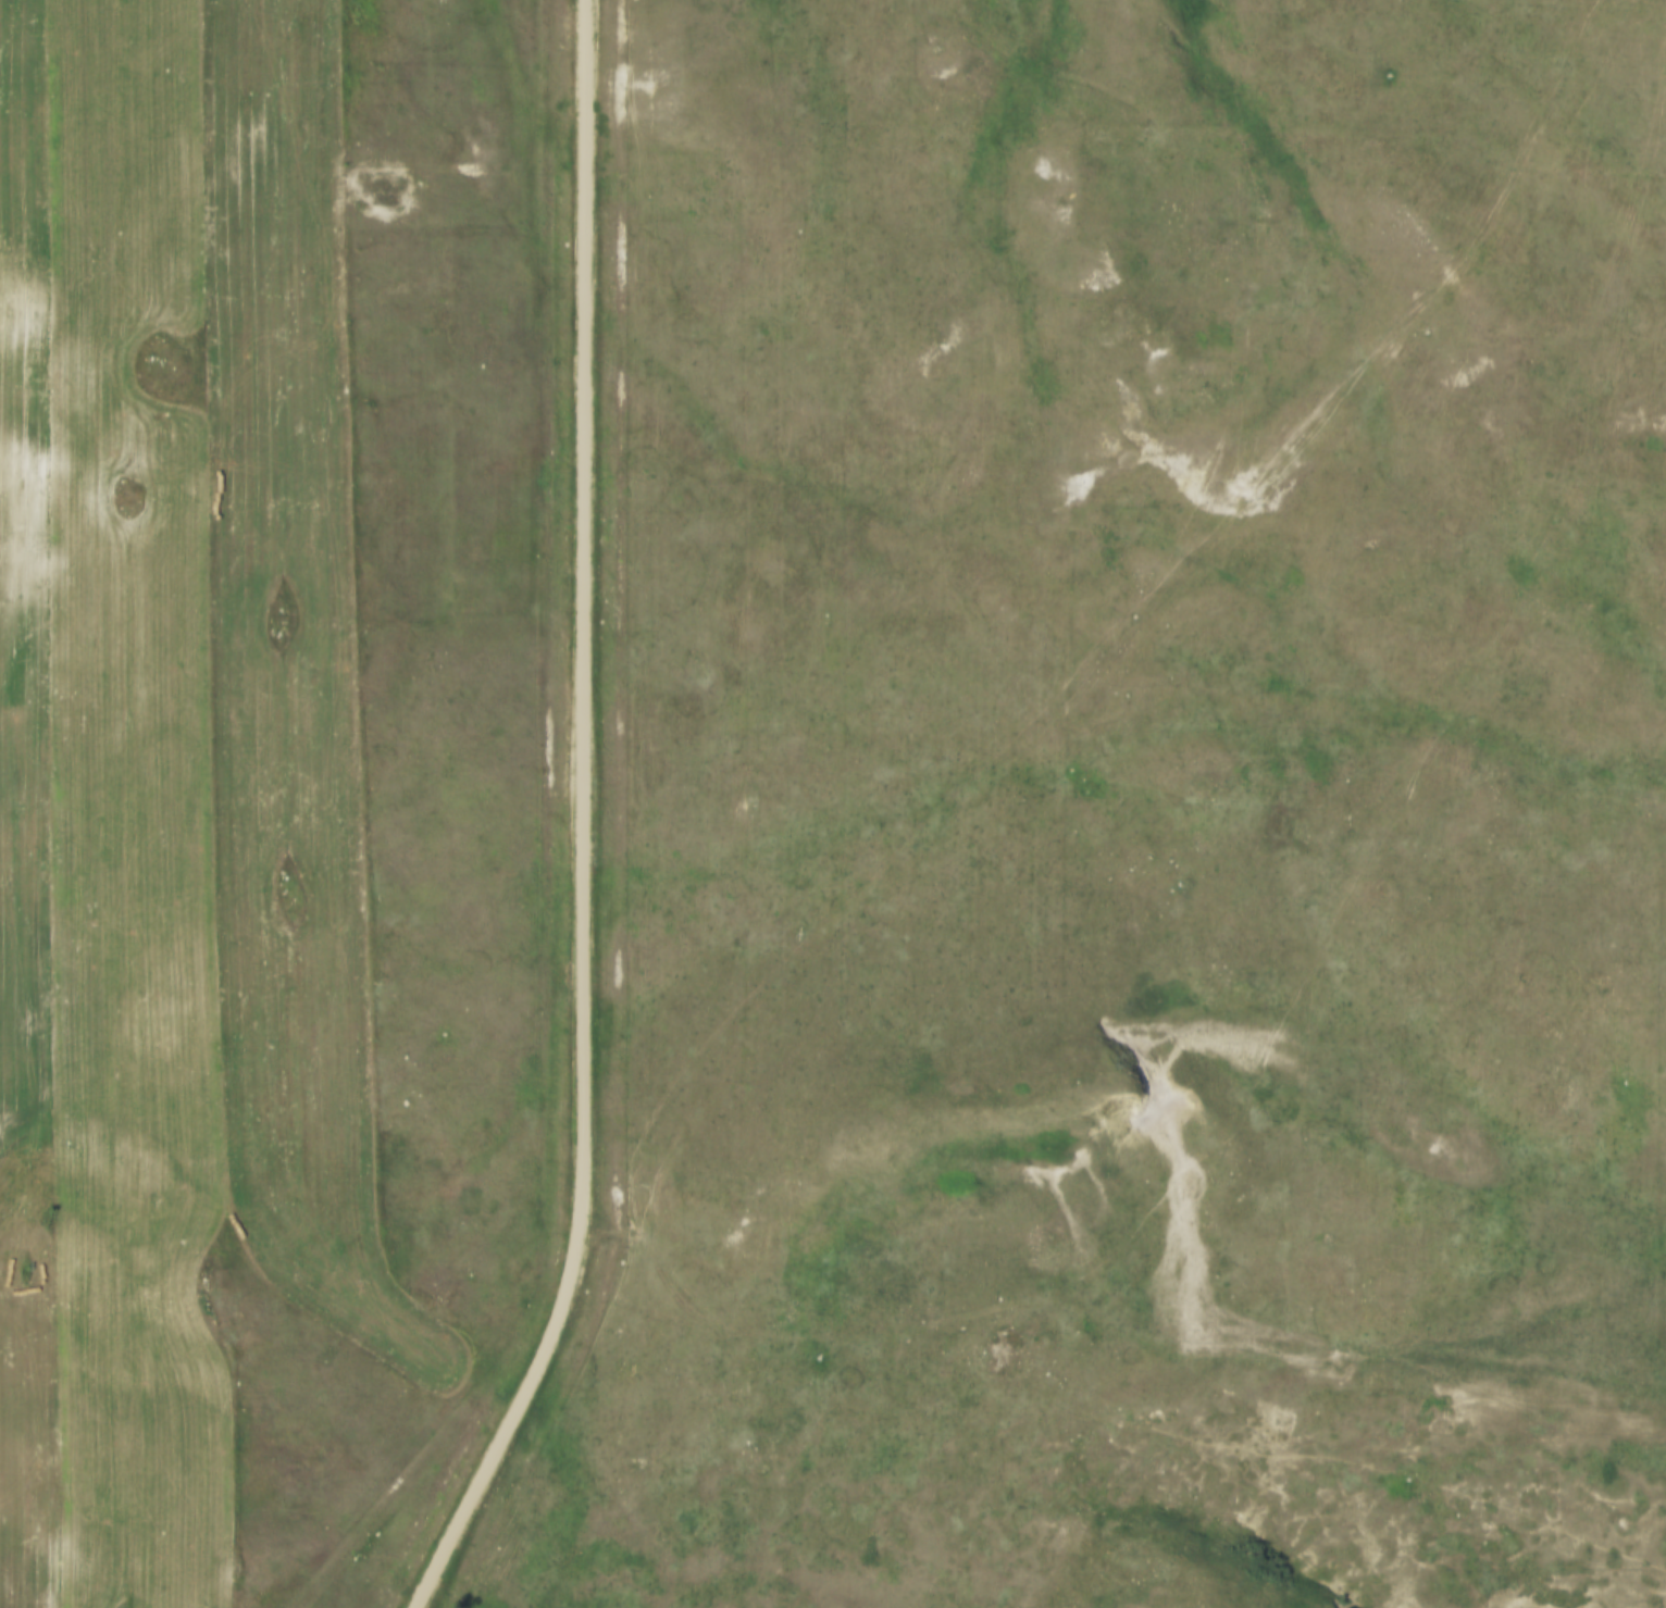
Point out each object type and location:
road: (584, 823)

